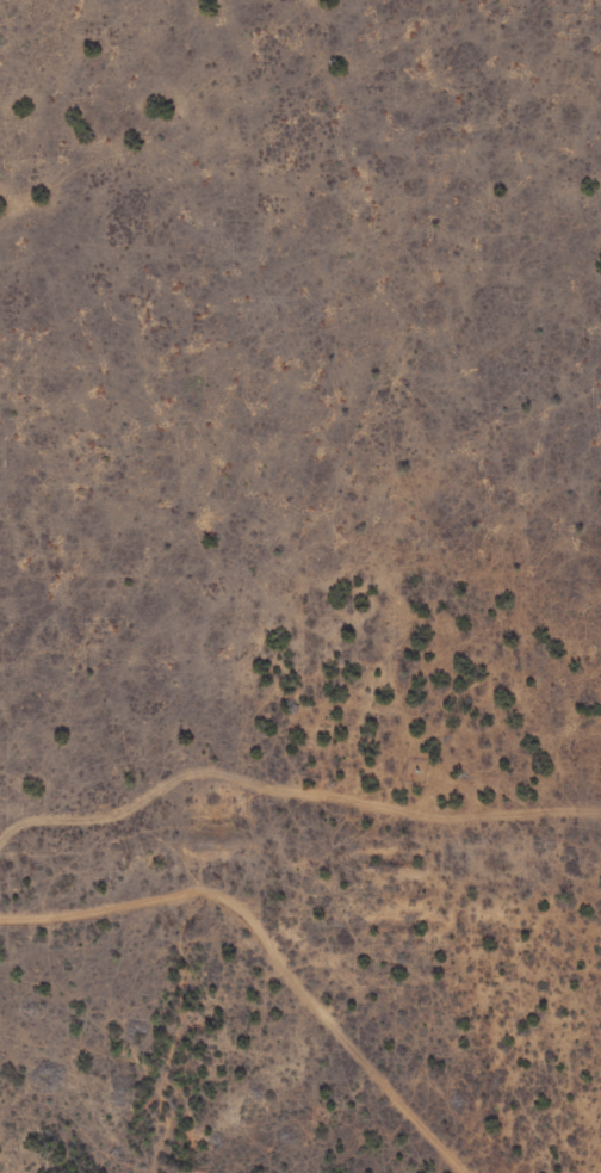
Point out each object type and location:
road: (267, 973)

